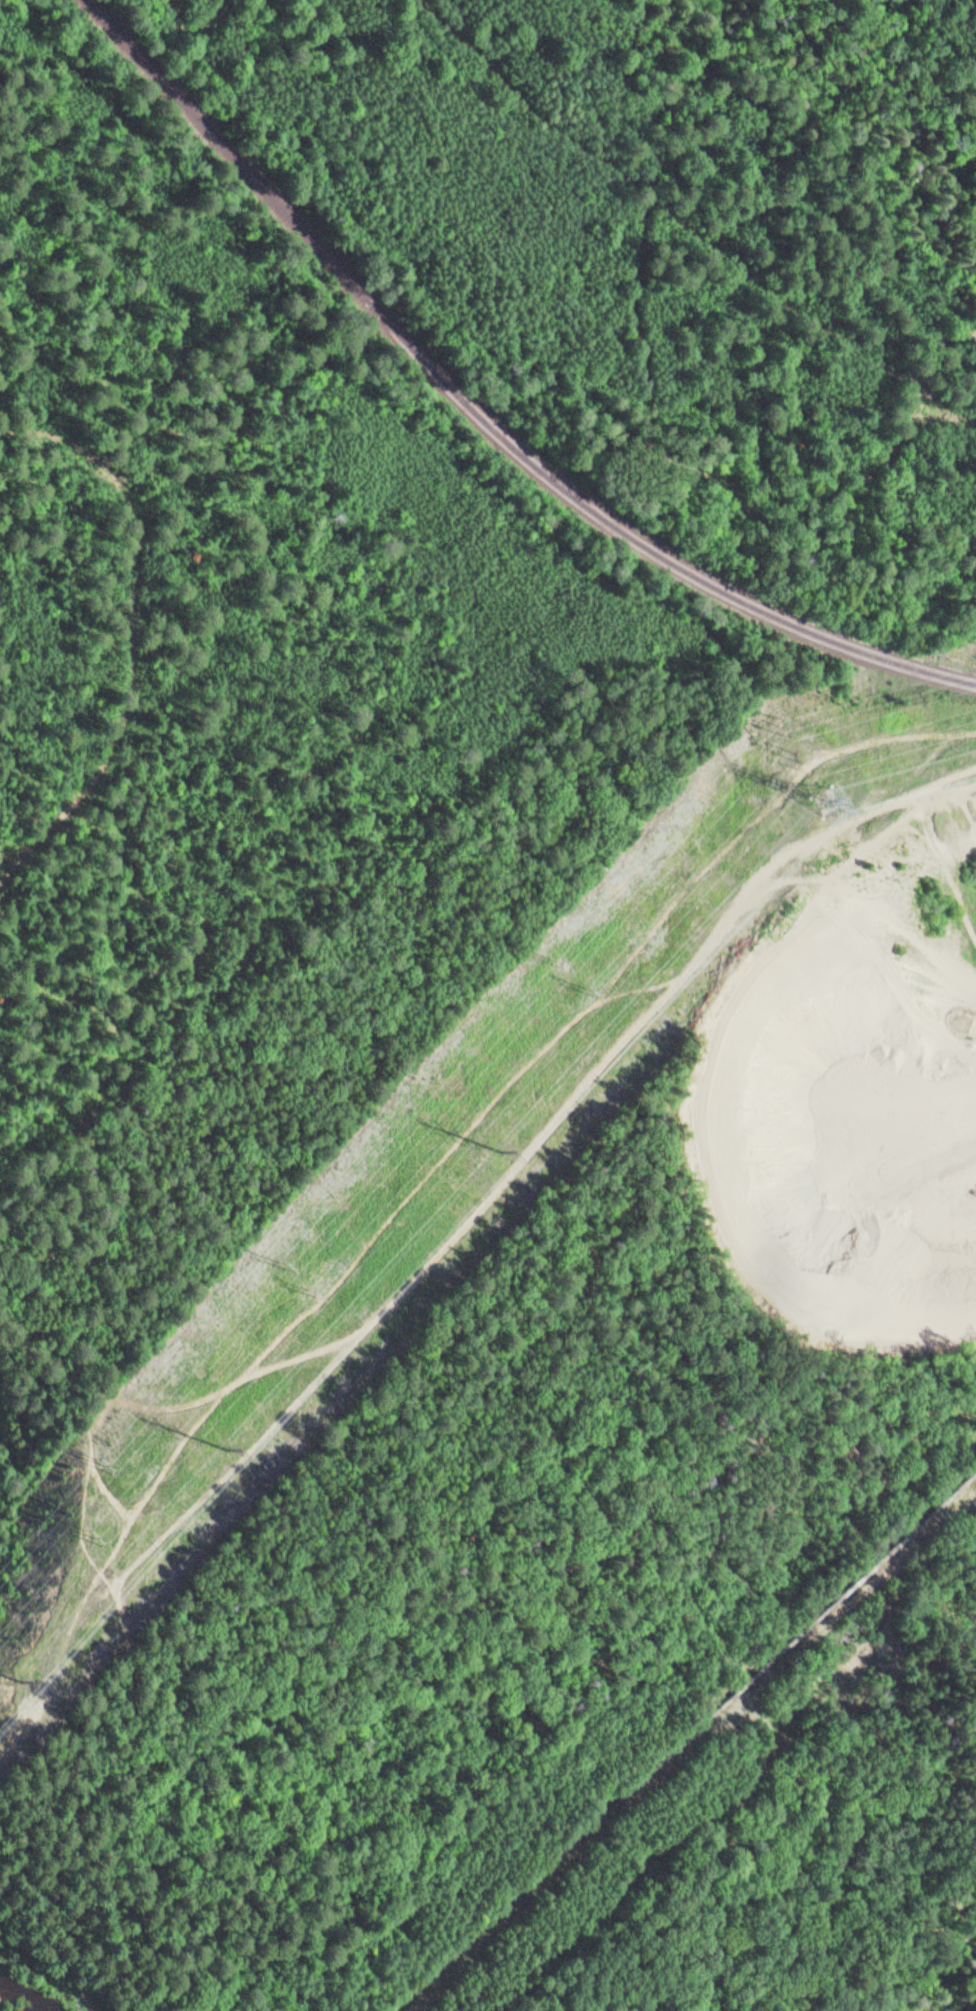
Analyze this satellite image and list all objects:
road: (200, 10)
road: (941, 30)
road: (647, 399)
railway: (482, 412)
power tower: (783, 725)
power tower: (808, 759)
power tower: (824, 805)
power tower: (564, 963)
power tower: (593, 993)
power tower: (502, 1151)
road: (511, 1168)
power tower: (289, 1264)
power tower: (318, 1291)
power tower: (230, 1448)
building: (974, 1457)
road: (246, 1458)
power tower: (102, 1464)
power tower: (87, 1536)
road: (584, 1660)
power tower: (12, 1679)
road: (125, 1689)
road: (692, 1753)
road: (719, 1858)
road: (82, 1947)
road: (46, 1974)

